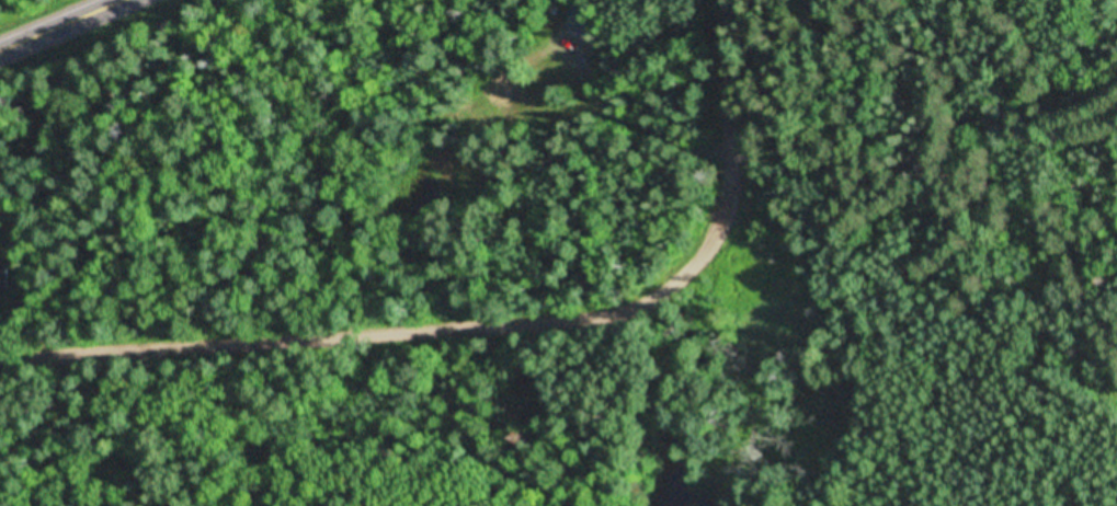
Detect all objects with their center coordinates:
road: (61, 25)
building: (4, 276)
road: (487, 324)

